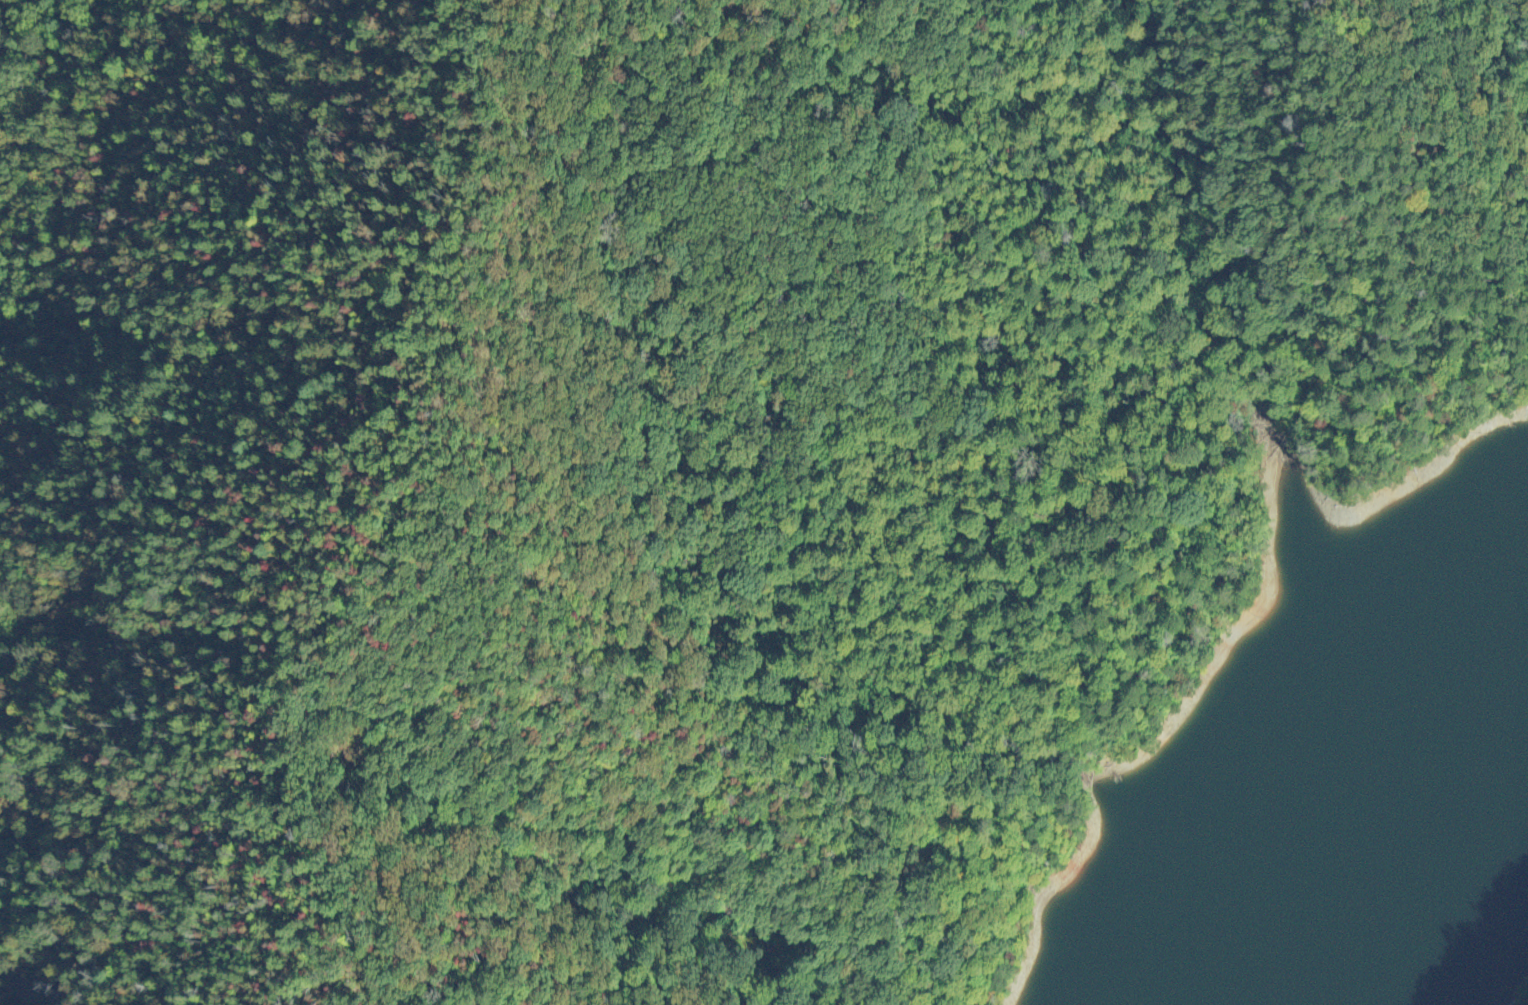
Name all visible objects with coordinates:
river: (1395, 840)

